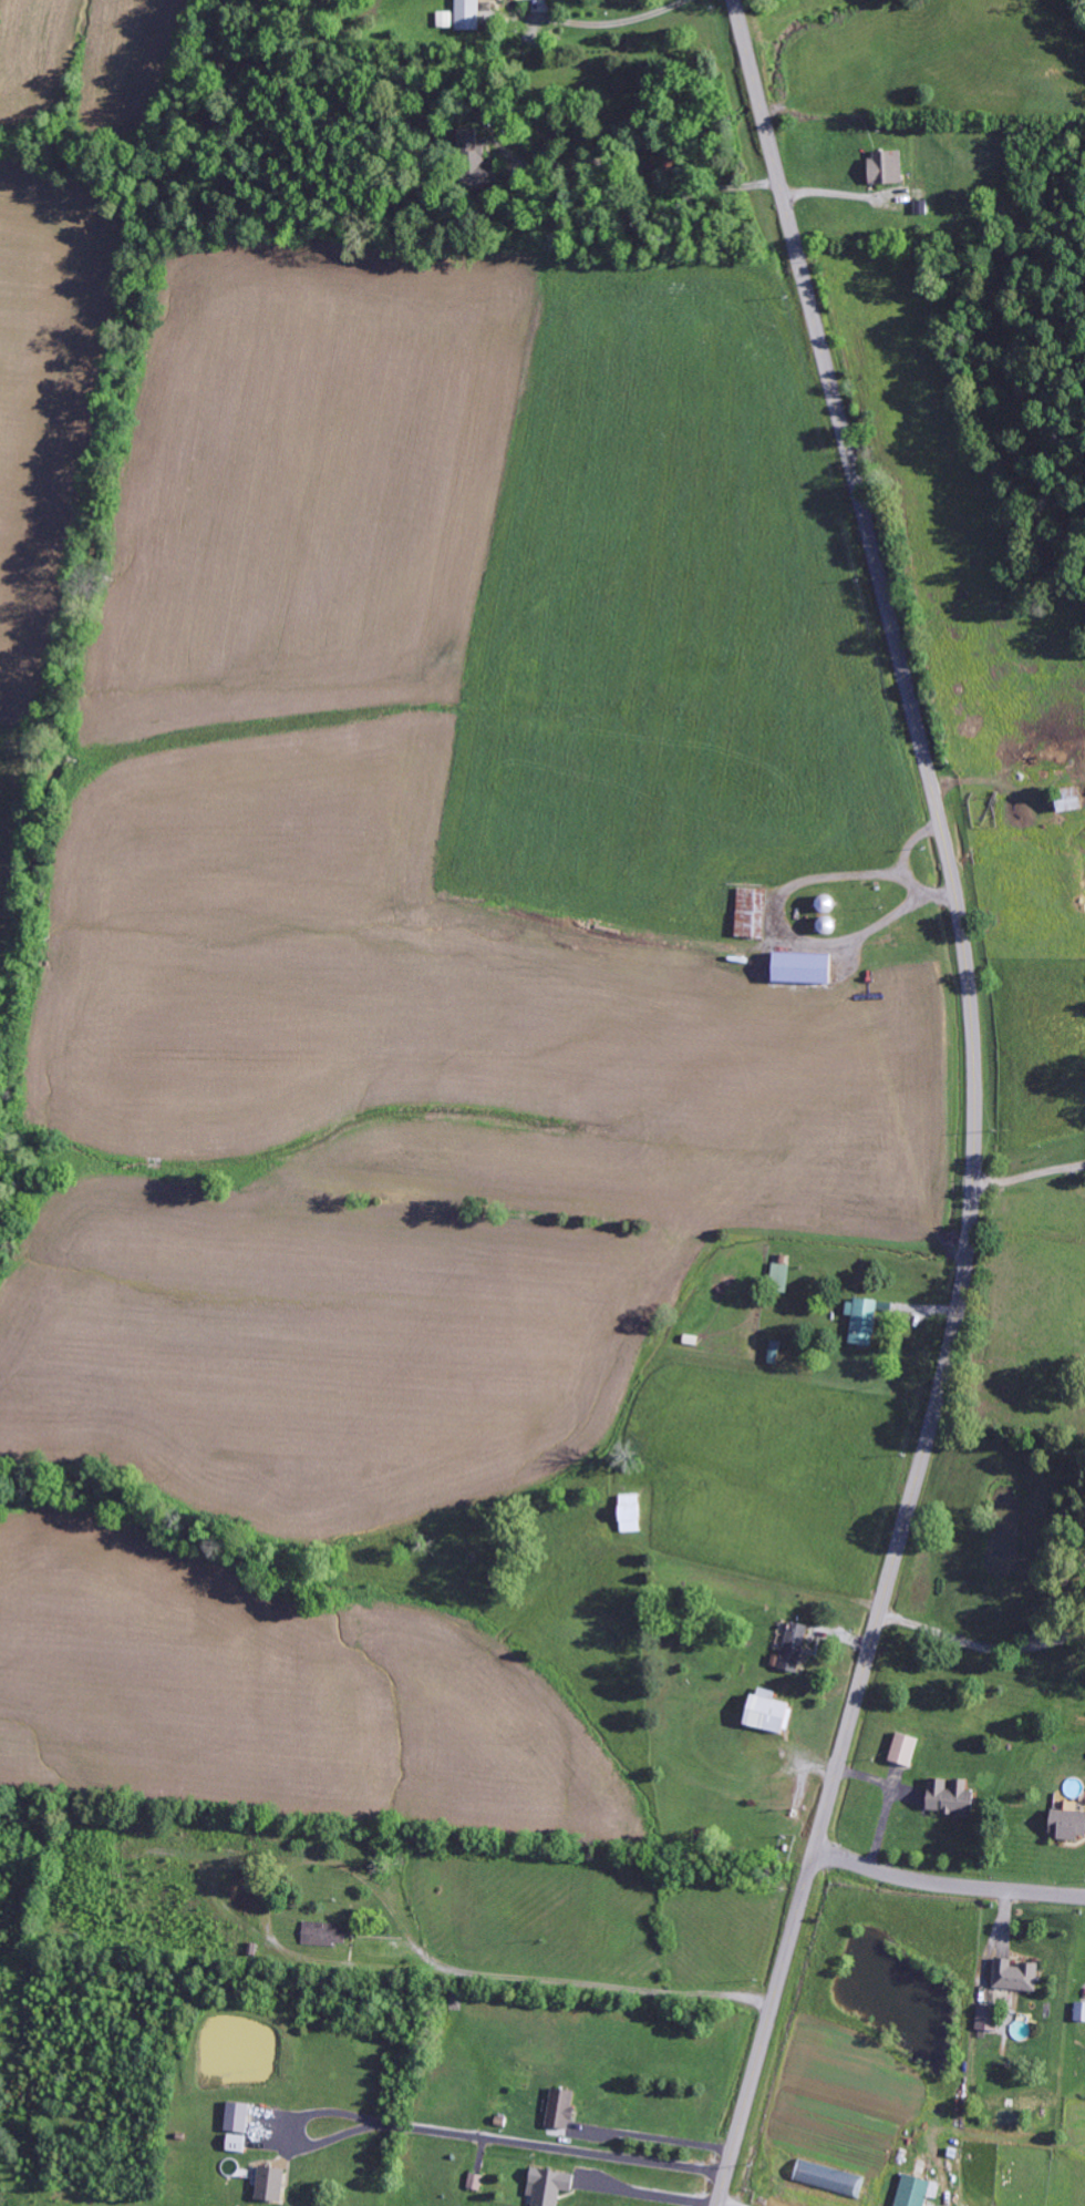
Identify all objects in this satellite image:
building: (468, 16)
building: (476, 161)
building: (887, 168)
building: (1068, 800)
building: (752, 913)
building: (802, 968)
road: (975, 1105)
building: (779, 1278)
building: (865, 1321)
building: (793, 1649)
building: (768, 1715)
building: (905, 1751)
building: (950, 1798)
building: (1068, 1824)
road: (947, 1889)
road: (381, 1898)
building: (325, 1935)
building: (1016, 1977)
road: (610, 1989)
building: (1079, 2013)
building: (989, 2020)
building: (562, 2108)
building: (238, 2116)
building: (237, 2143)
building: (830, 2178)
building: (476, 2182)
building: (271, 2184)
building: (550, 2186)
building: (913, 2192)

